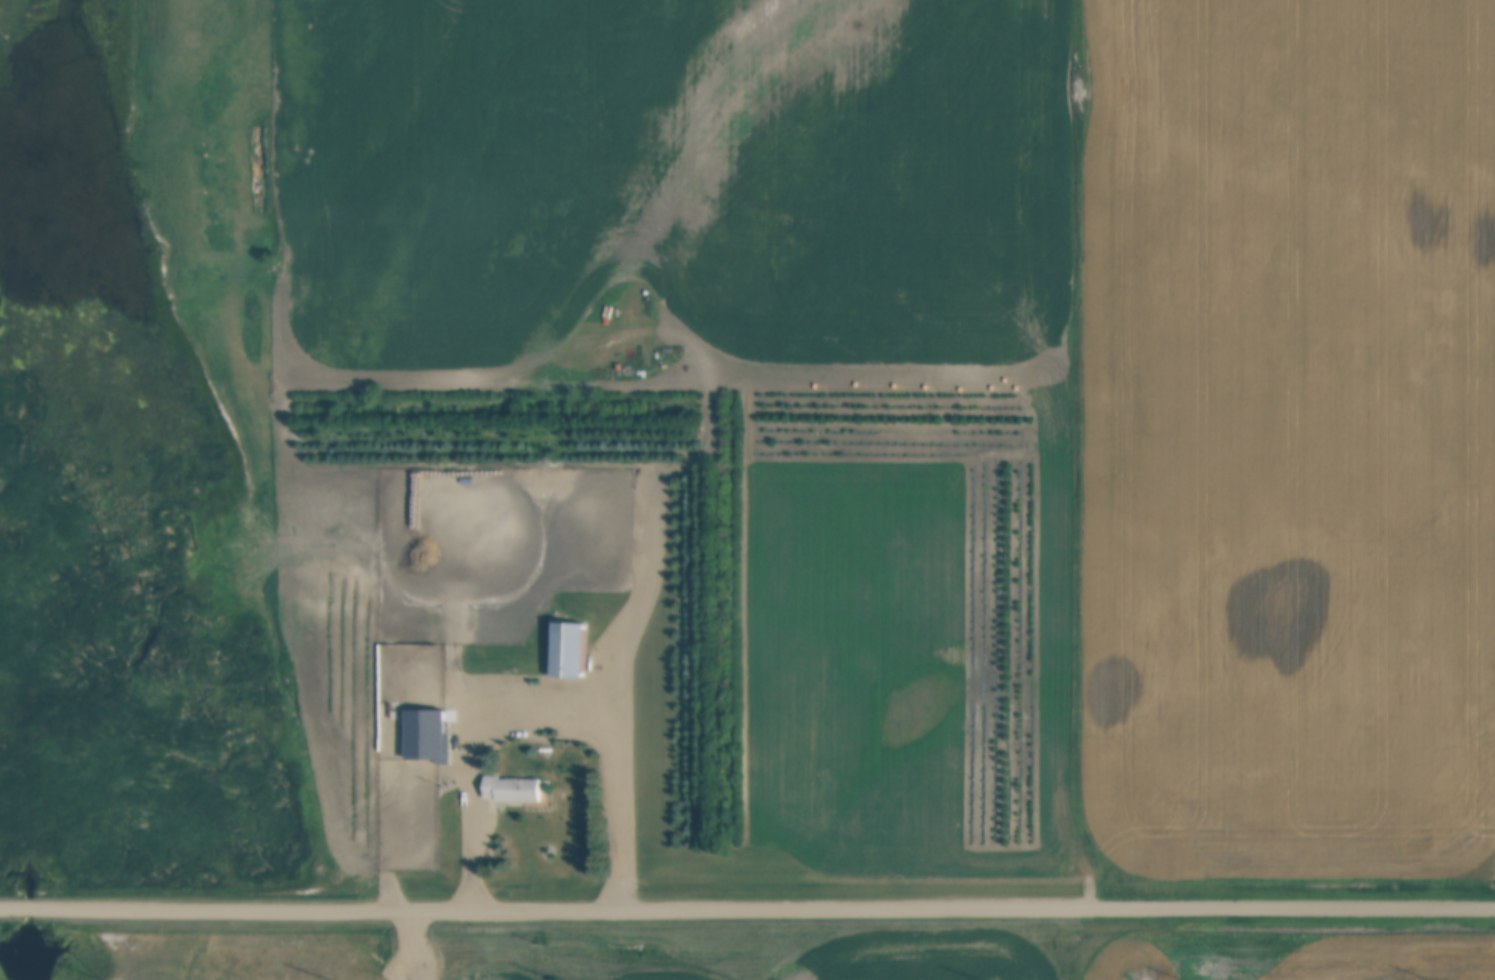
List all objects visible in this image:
building: (568, 647)
building: (511, 678)
building: (463, 683)
road: (544, 715)
building: (400, 722)
building: (510, 790)
road: (747, 909)

